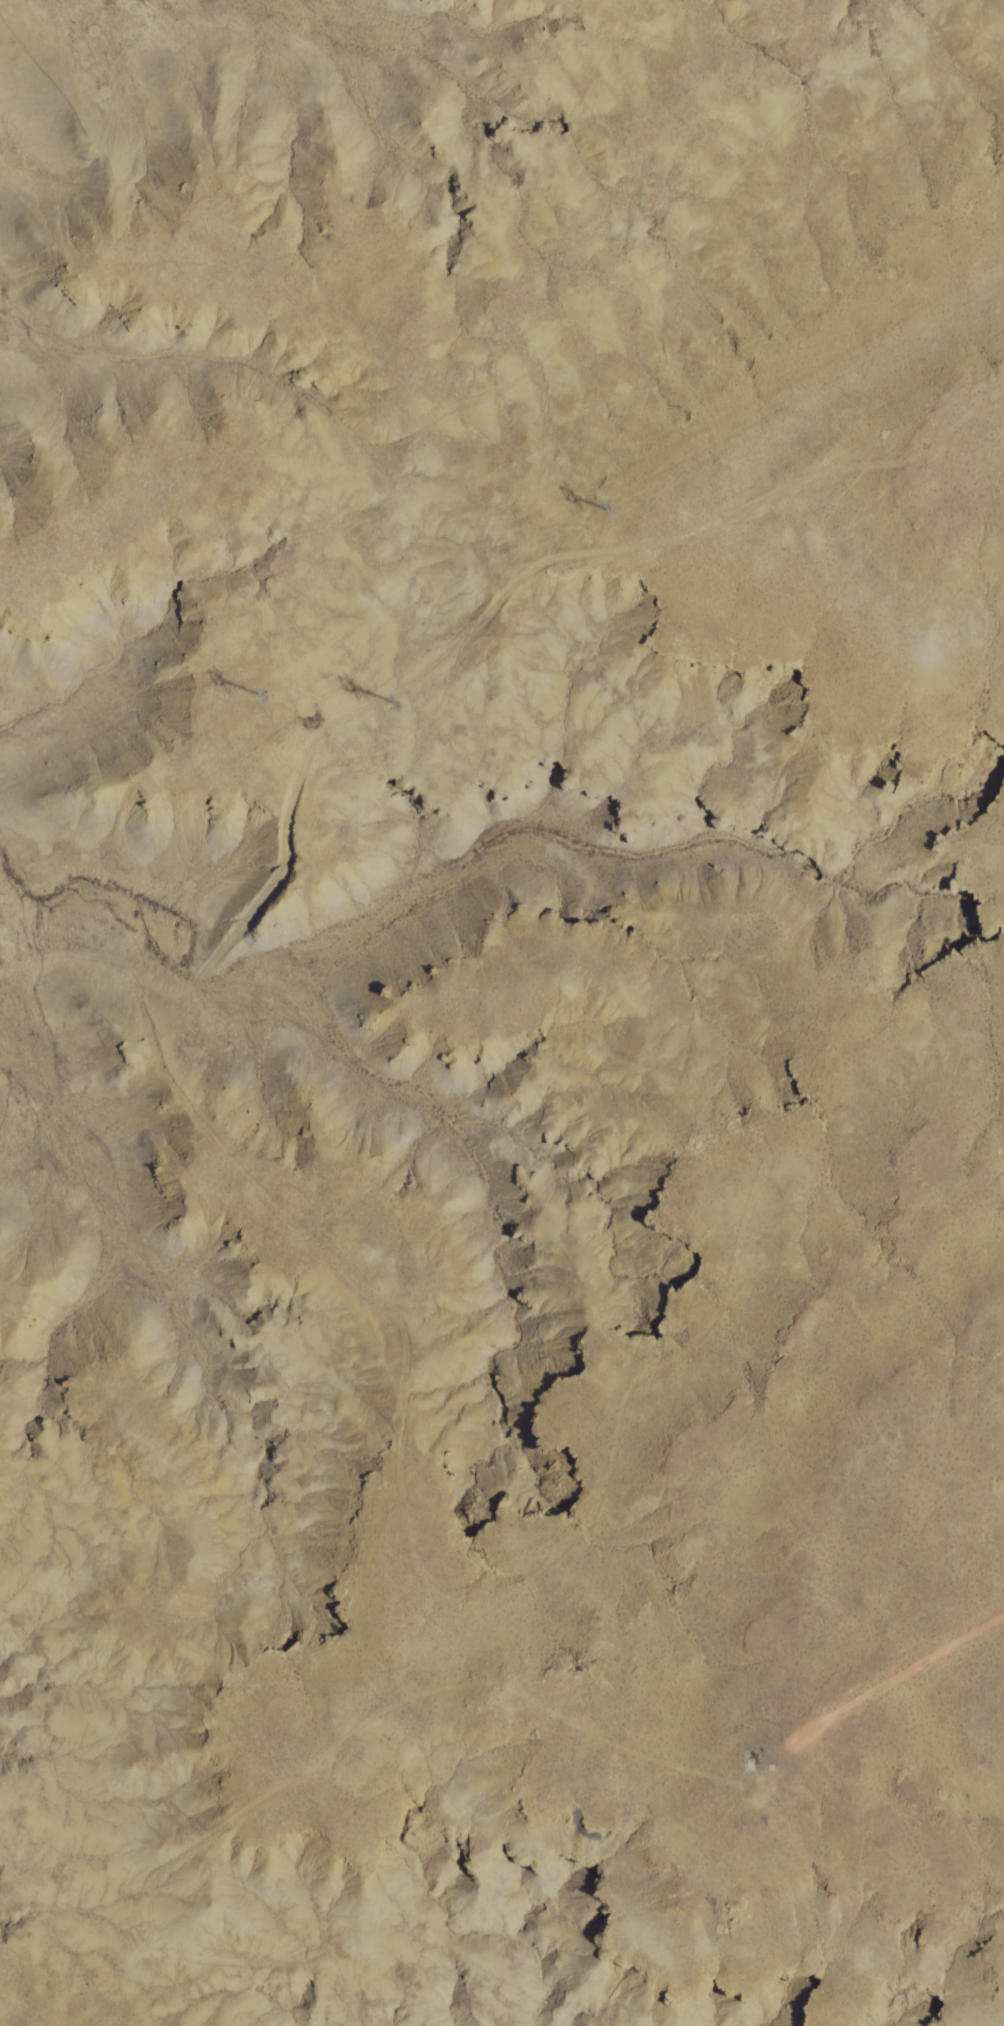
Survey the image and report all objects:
power tower: (615, 501)
power tower: (266, 688)
power tower: (400, 695)

